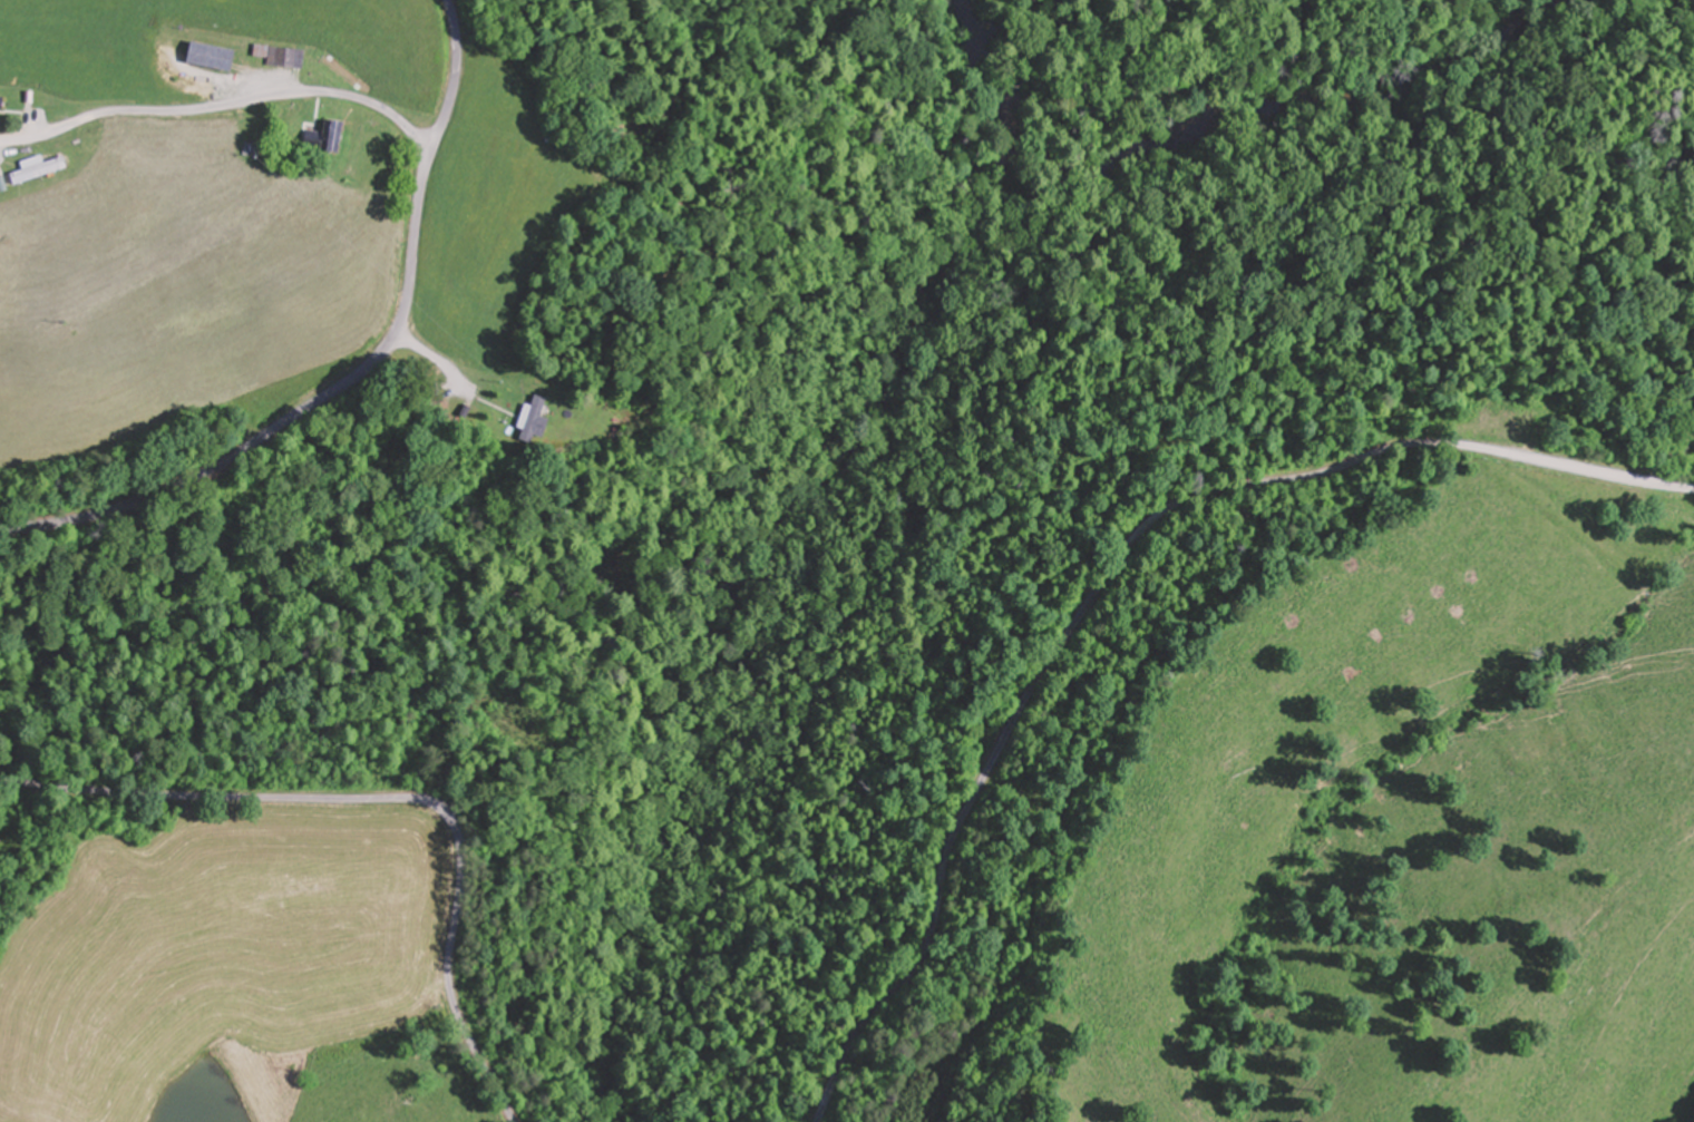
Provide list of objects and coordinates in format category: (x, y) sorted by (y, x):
building: (204, 57)
building: (275, 57)
road: (451, 74)
road: (222, 105)
building: (324, 137)
building: (430, 394)
road: (296, 421)
road: (1108, 577)
road: (384, 799)

